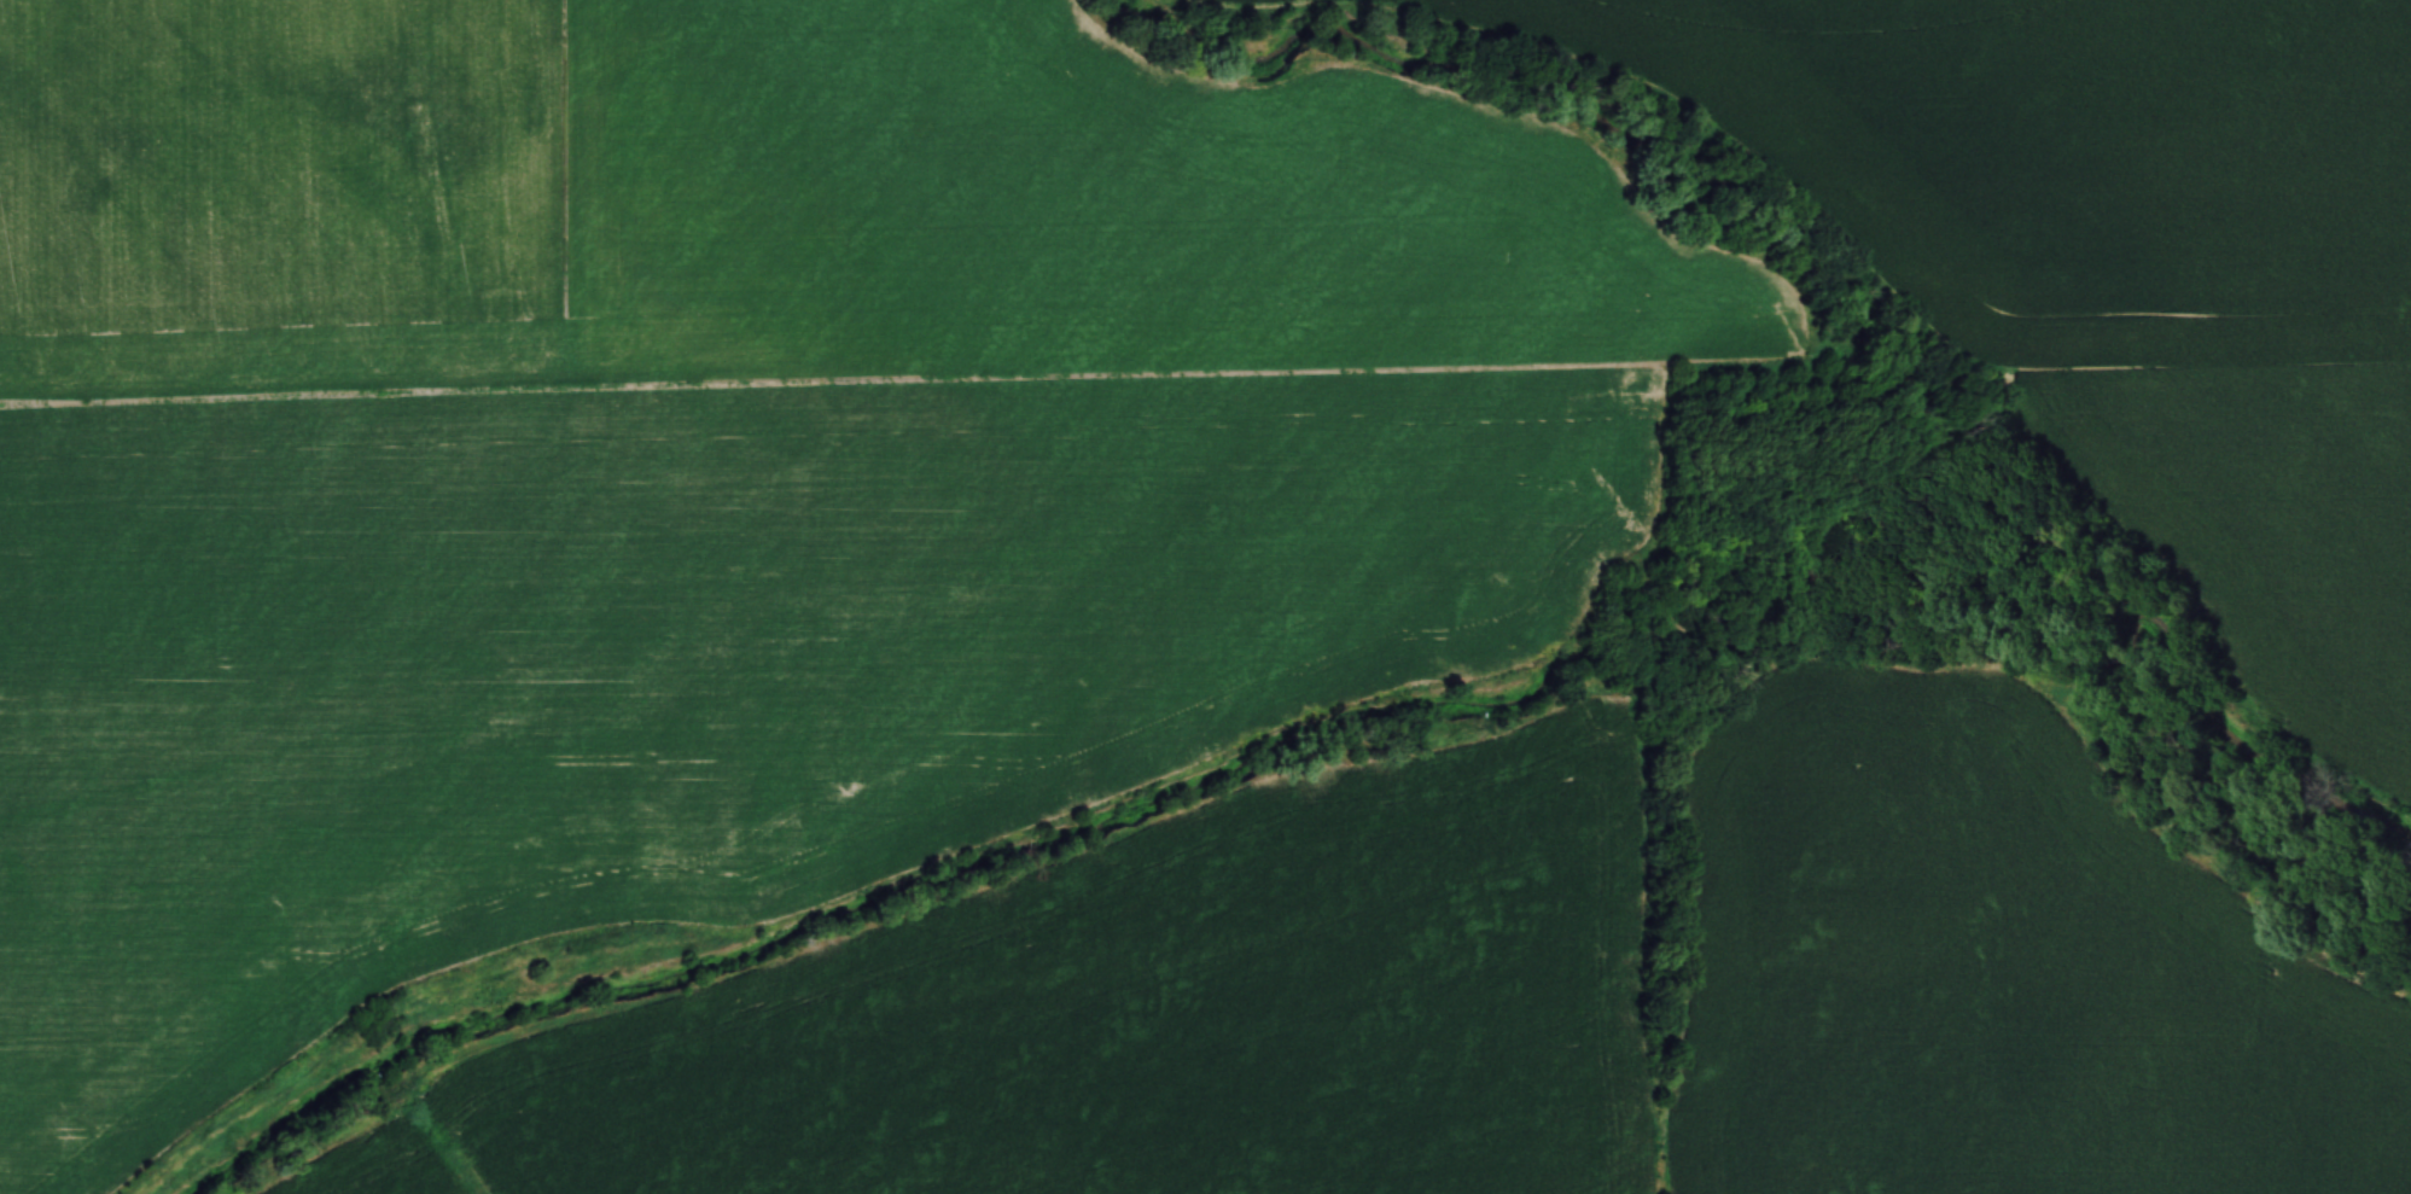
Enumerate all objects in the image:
river: (2224, 753)
crop: (2004, 968)

